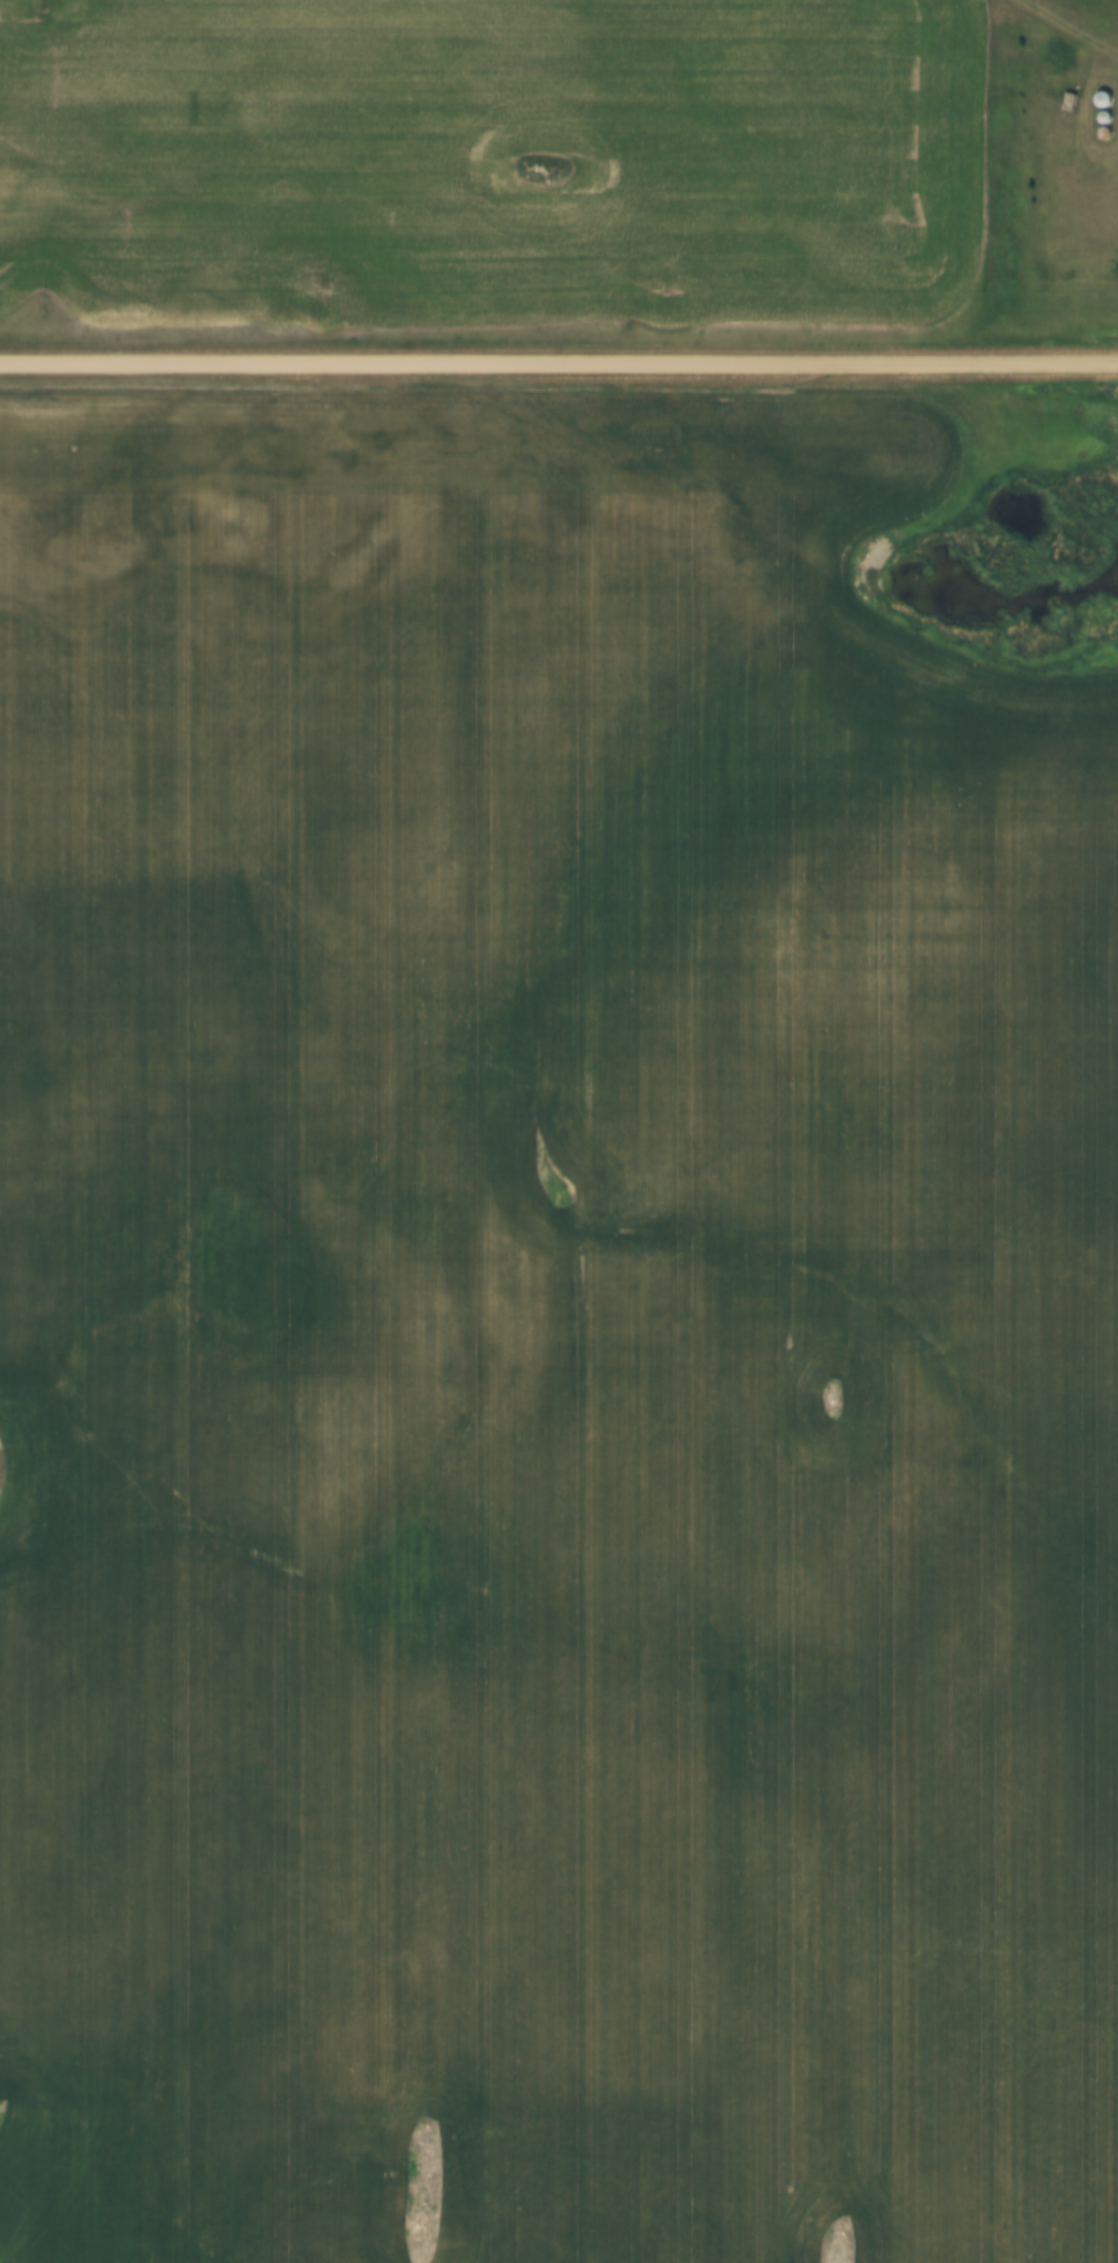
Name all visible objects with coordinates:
road: (1073, 31)
road: (559, 360)

